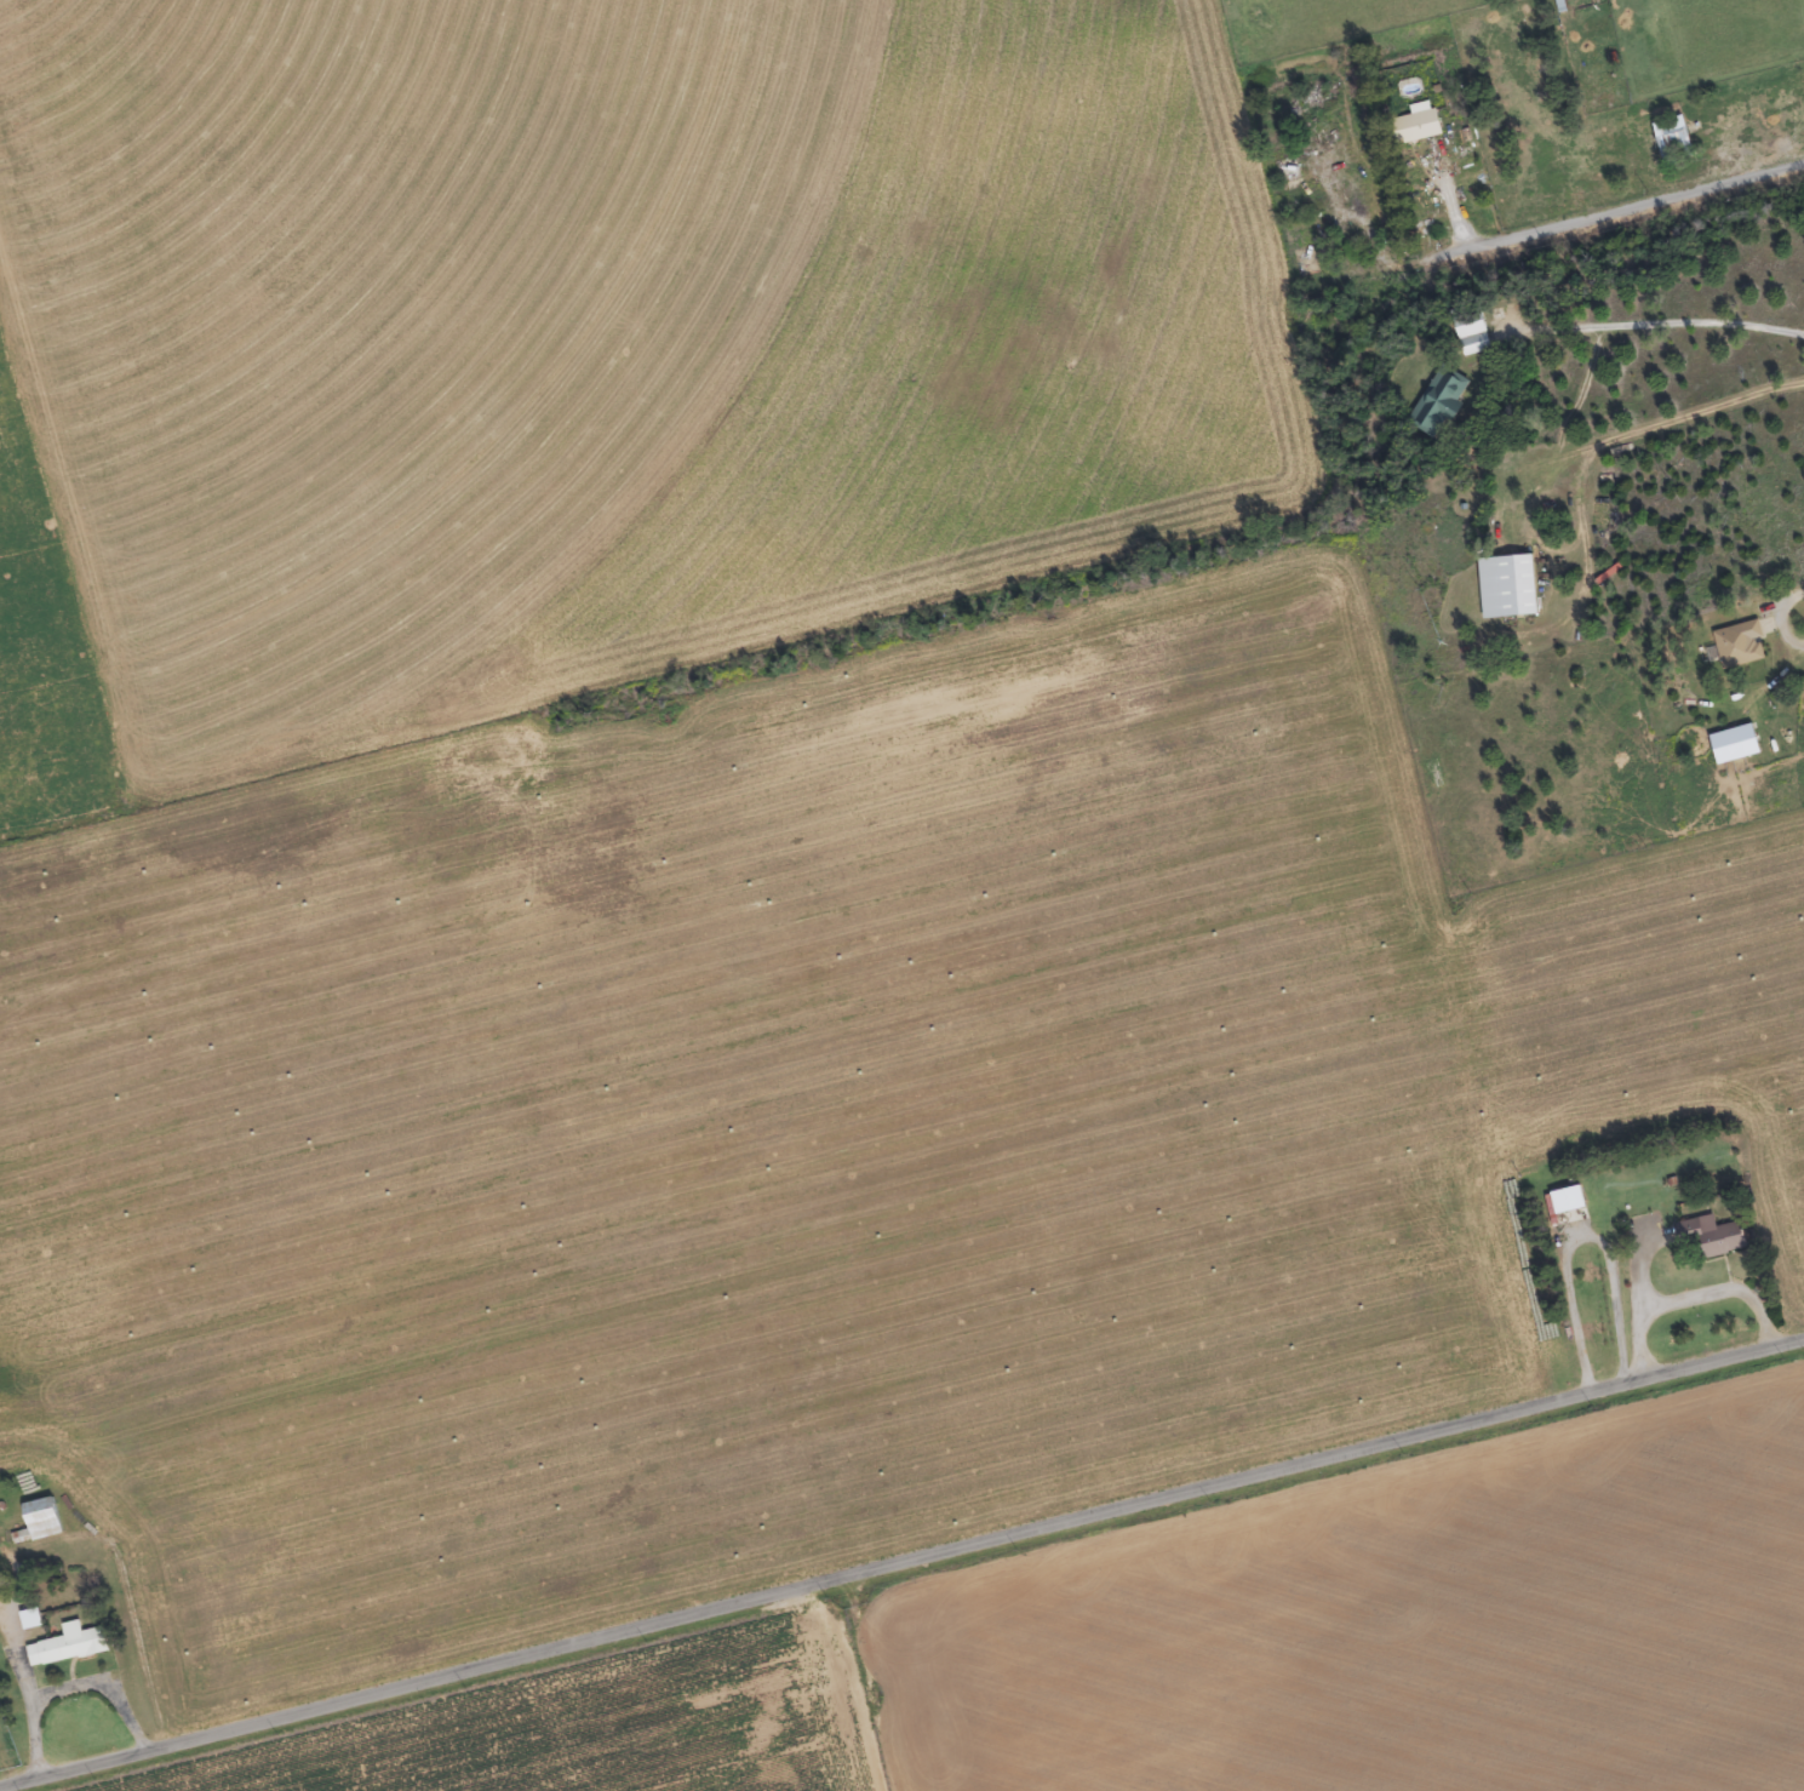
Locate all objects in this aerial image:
building: (1556, 1)
building: (1411, 125)
building: (1666, 136)
road: (1648, 200)
building: (1467, 333)
building: (1436, 402)
building: (1502, 586)
building: (1574, 1201)
building: (1714, 1240)
building: (46, 1522)
road: (901, 1562)
building: (35, 1620)
building: (74, 1647)
road: (883, 1678)

